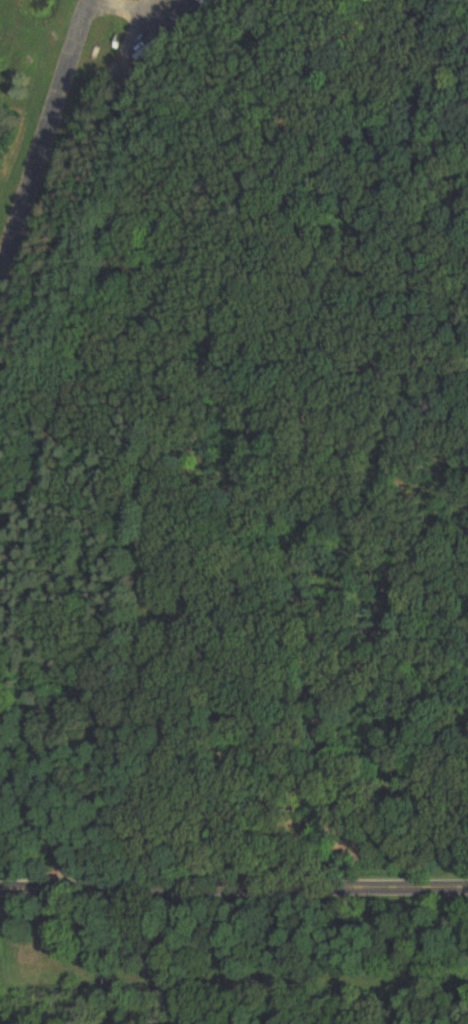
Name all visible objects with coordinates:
building: (208, 3)
road: (42, 800)
road: (234, 893)

